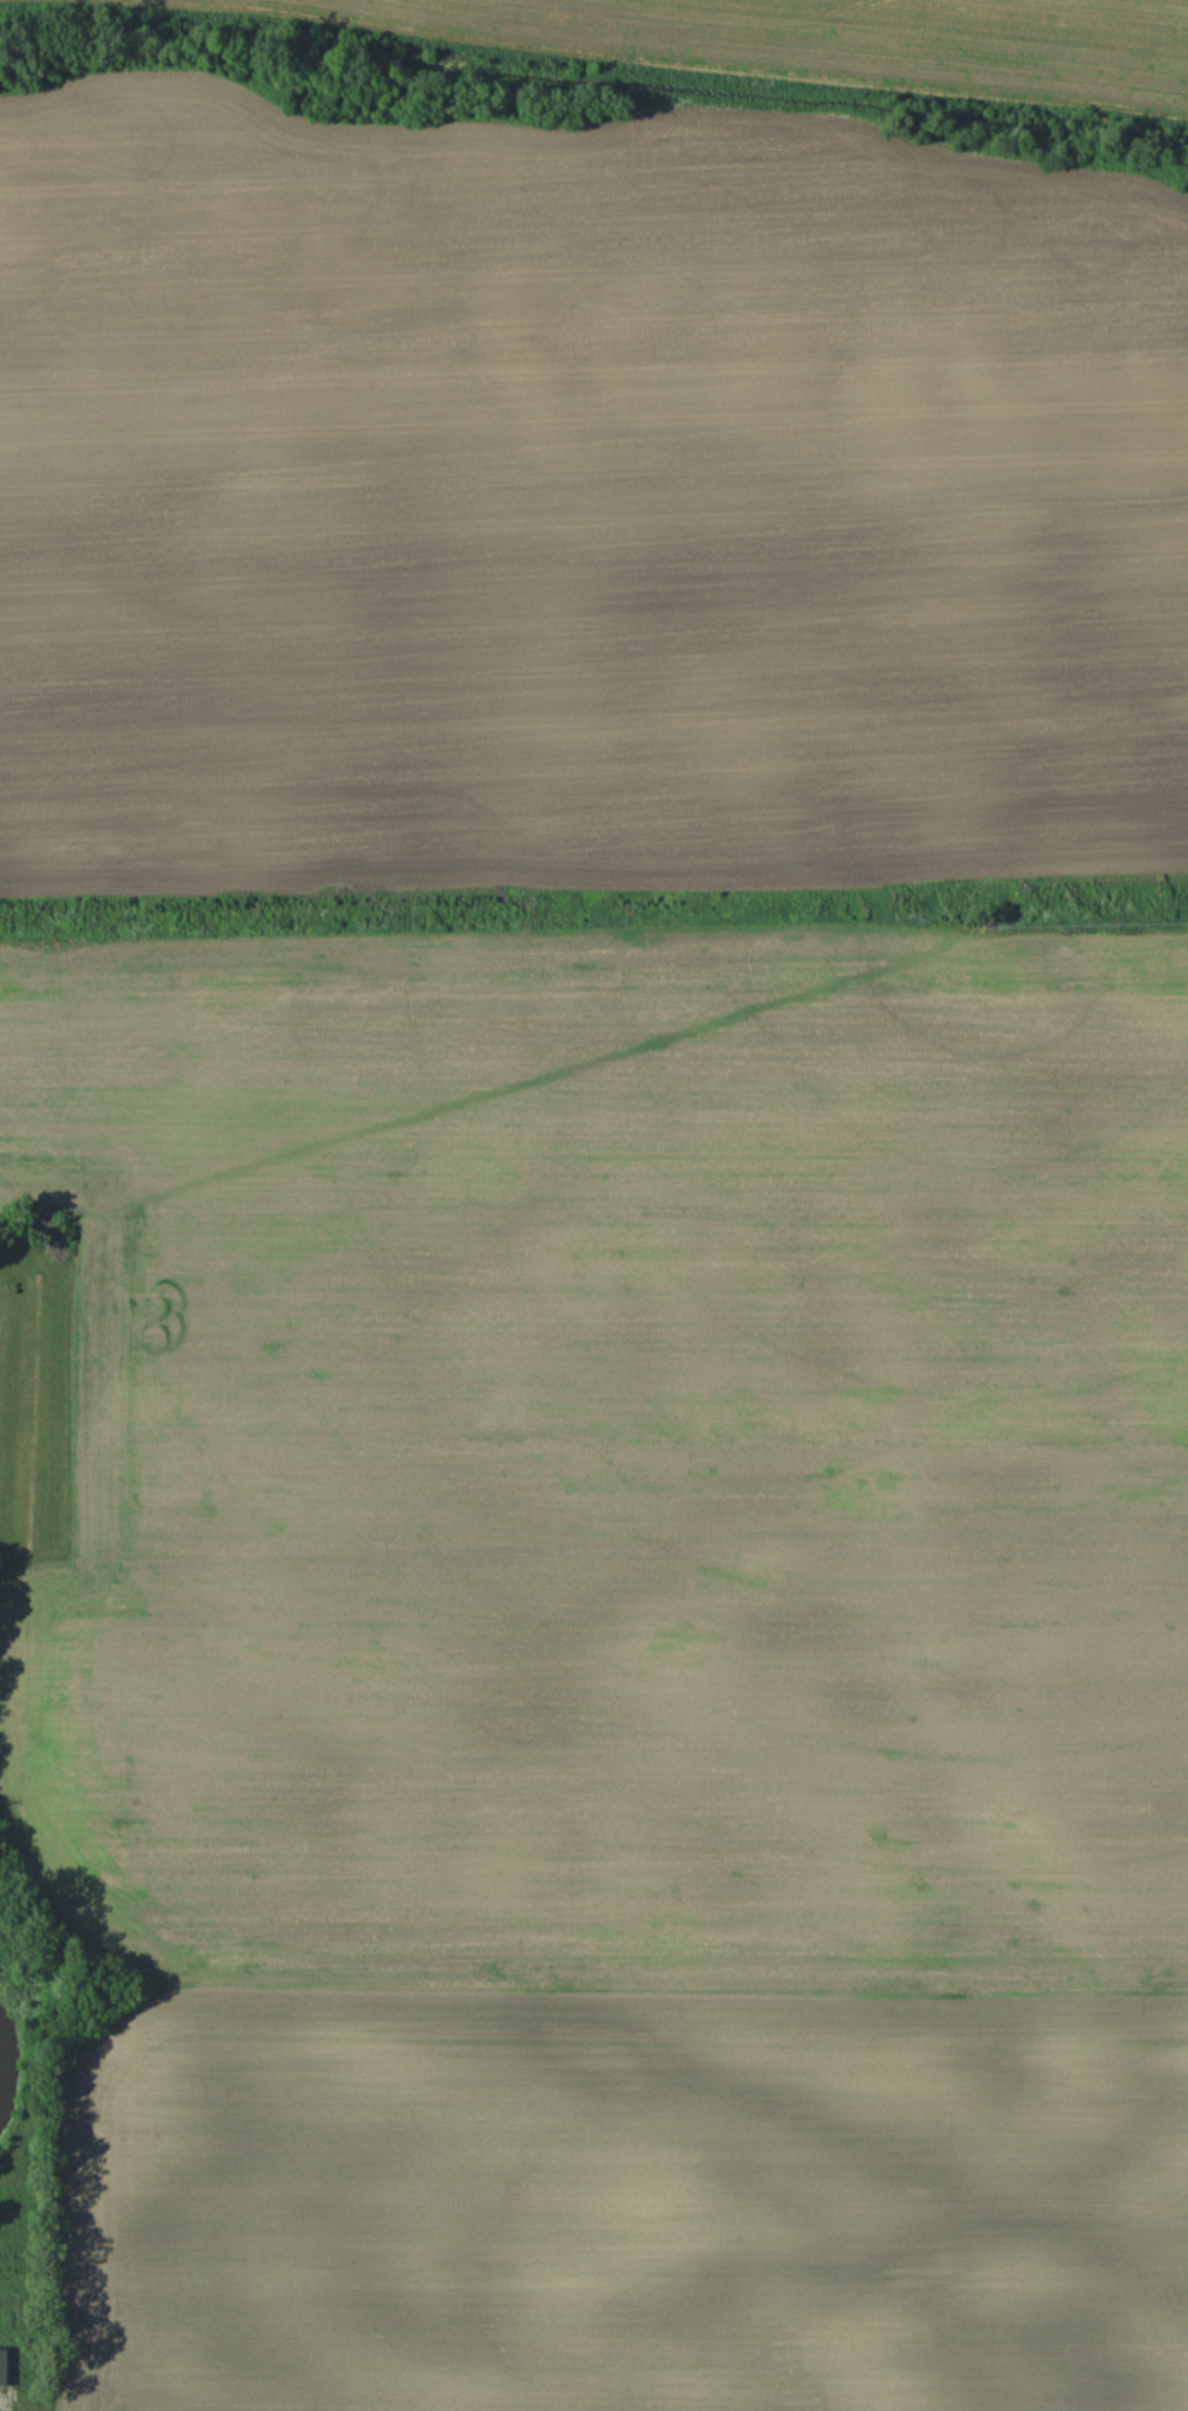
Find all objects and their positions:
building: (2, 2366)

